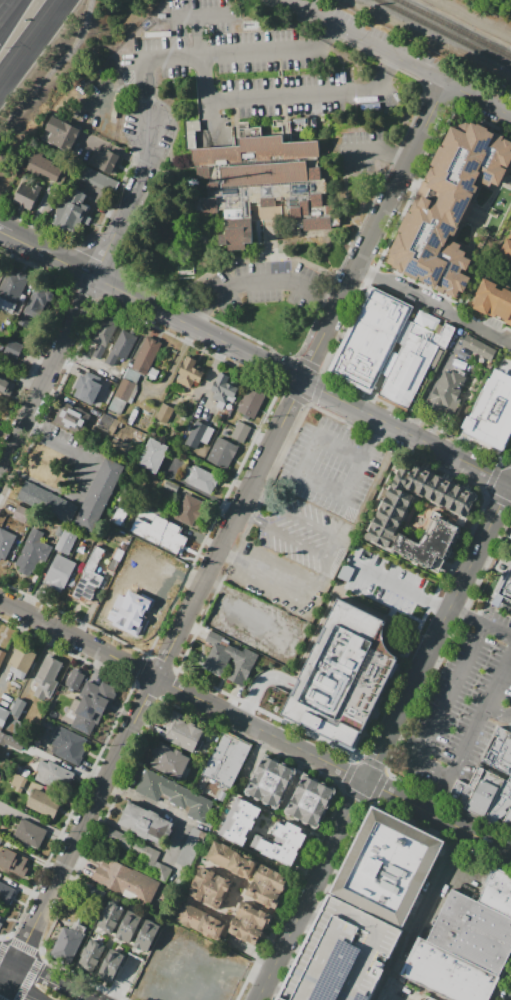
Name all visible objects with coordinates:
road: (9, 12)
road: (211, 14)
railway: (456, 27)
railway: (445, 32)
road: (326, 33)
road: (361, 41)
road: (30, 44)
parking lot: (418, 51)
road: (229, 53)
road: (390, 67)
road: (55, 70)
road: (145, 72)
road: (477, 99)
road: (247, 100)
road: (147, 103)
building: (190, 132)
building: (62, 134)
road: (365, 149)
road: (397, 153)
building: (105, 161)
building: (256, 163)
building: (43, 167)
building: (97, 179)
building: (316, 186)
building: (26, 197)
building: (208, 204)
building: (310, 208)
building: (267, 209)
building: (448, 209)
building: (68, 216)
building: (316, 224)
road: (5, 229)
road: (5, 231)
building: (238, 239)
building: (506, 250)
flagpole: (184, 272)
road: (257, 283)
building: (10, 288)
road: (83, 299)
building: (492, 300)
building: (35, 305)
road: (433, 306)
road: (207, 333)
building: (104, 335)
building: (371, 340)
building: (478, 347)
building: (12, 348)
building: (121, 349)
building: (146, 355)
building: (415, 358)
building: (188, 373)
road: (20, 379)
building: (107, 384)
road: (431, 384)
building: (86, 386)
building: (5, 389)
building: (124, 389)
building: (223, 390)
building: (447, 392)
building: (250, 403)
building: (146, 407)
building: (164, 413)
building: (491, 413)
building: (72, 417)
road: (29, 428)
road: (376, 429)
building: (240, 431)
road: (275, 434)
building: (196, 435)
building: (206, 436)
building: (221, 453)
building: (153, 455)
road: (79, 456)
road: (456, 458)
building: (198, 478)
road: (311, 480)
road: (510, 480)
road: (510, 483)
building: (169, 486)
building: (98, 494)
building: (47, 502)
building: (454, 503)
building: (188, 509)
building: (21, 514)
parking lot: (323, 525)
building: (58, 531)
building: (172, 540)
building: (66, 541)
building: (5, 542)
road: (332, 545)
road: (479, 545)
building: (427, 547)
building: (33, 552)
road: (225, 554)
building: (132, 563)
building: (112, 564)
building: (59, 572)
road: (269, 575)
building: (89, 577)
road: (405, 588)
building: (504, 594)
building: (149, 598)
road: (203, 599)
road: (251, 622)
road: (480, 623)
road: (78, 640)
building: (201, 648)
building: (2, 656)
building: (21, 658)
building: (215, 665)
building: (341, 675)
building: (47, 677)
building: (74, 680)
road: (257, 683)
road: (500, 684)
road: (407, 694)
parking lot: (460, 705)
building: (92, 706)
road: (442, 709)
building: (3, 716)
road: (261, 729)
building: (182, 733)
building: (10, 741)
building: (68, 745)
road: (463, 748)
building: (499, 751)
building: (169, 760)
building: (222, 765)
building: (53, 775)
building: (271, 782)
building: (18, 783)
building: (476, 793)
building: (173, 794)
building: (310, 801)
building: (500, 803)
building: (44, 804)
road: (437, 817)
building: (507, 821)
building: (242, 822)
building: (146, 824)
building: (29, 833)
building: (0, 838)
road: (175, 838)
building: (284, 843)
building: (191, 848)
building: (139, 852)
building: (231, 859)
building: (13, 862)
building: (392, 867)
building: (205, 877)
building: (127, 882)
building: (221, 884)
building: (268, 885)
road: (310, 889)
building: (199, 890)
building: (497, 891)
road: (52, 892)
building: (5, 893)
building: (92, 895)
building: (214, 897)
building: (0, 916)
road: (310, 916)
road: (426, 917)
building: (109, 918)
building: (201, 921)
building: (251, 923)
building: (0, 924)
building: (128, 928)
building: (473, 931)
building: (146, 935)
building: (68, 942)
building: (346, 954)
parking garage: (346, 954)
building: (90, 956)
road: (9, 958)
building: (110, 968)
building: (450, 973)
road: (47, 978)
road: (3, 985)
road: (275, 987)
road: (420, 987)
road: (21, 993)
road: (84, 996)
building: (431, 998)

